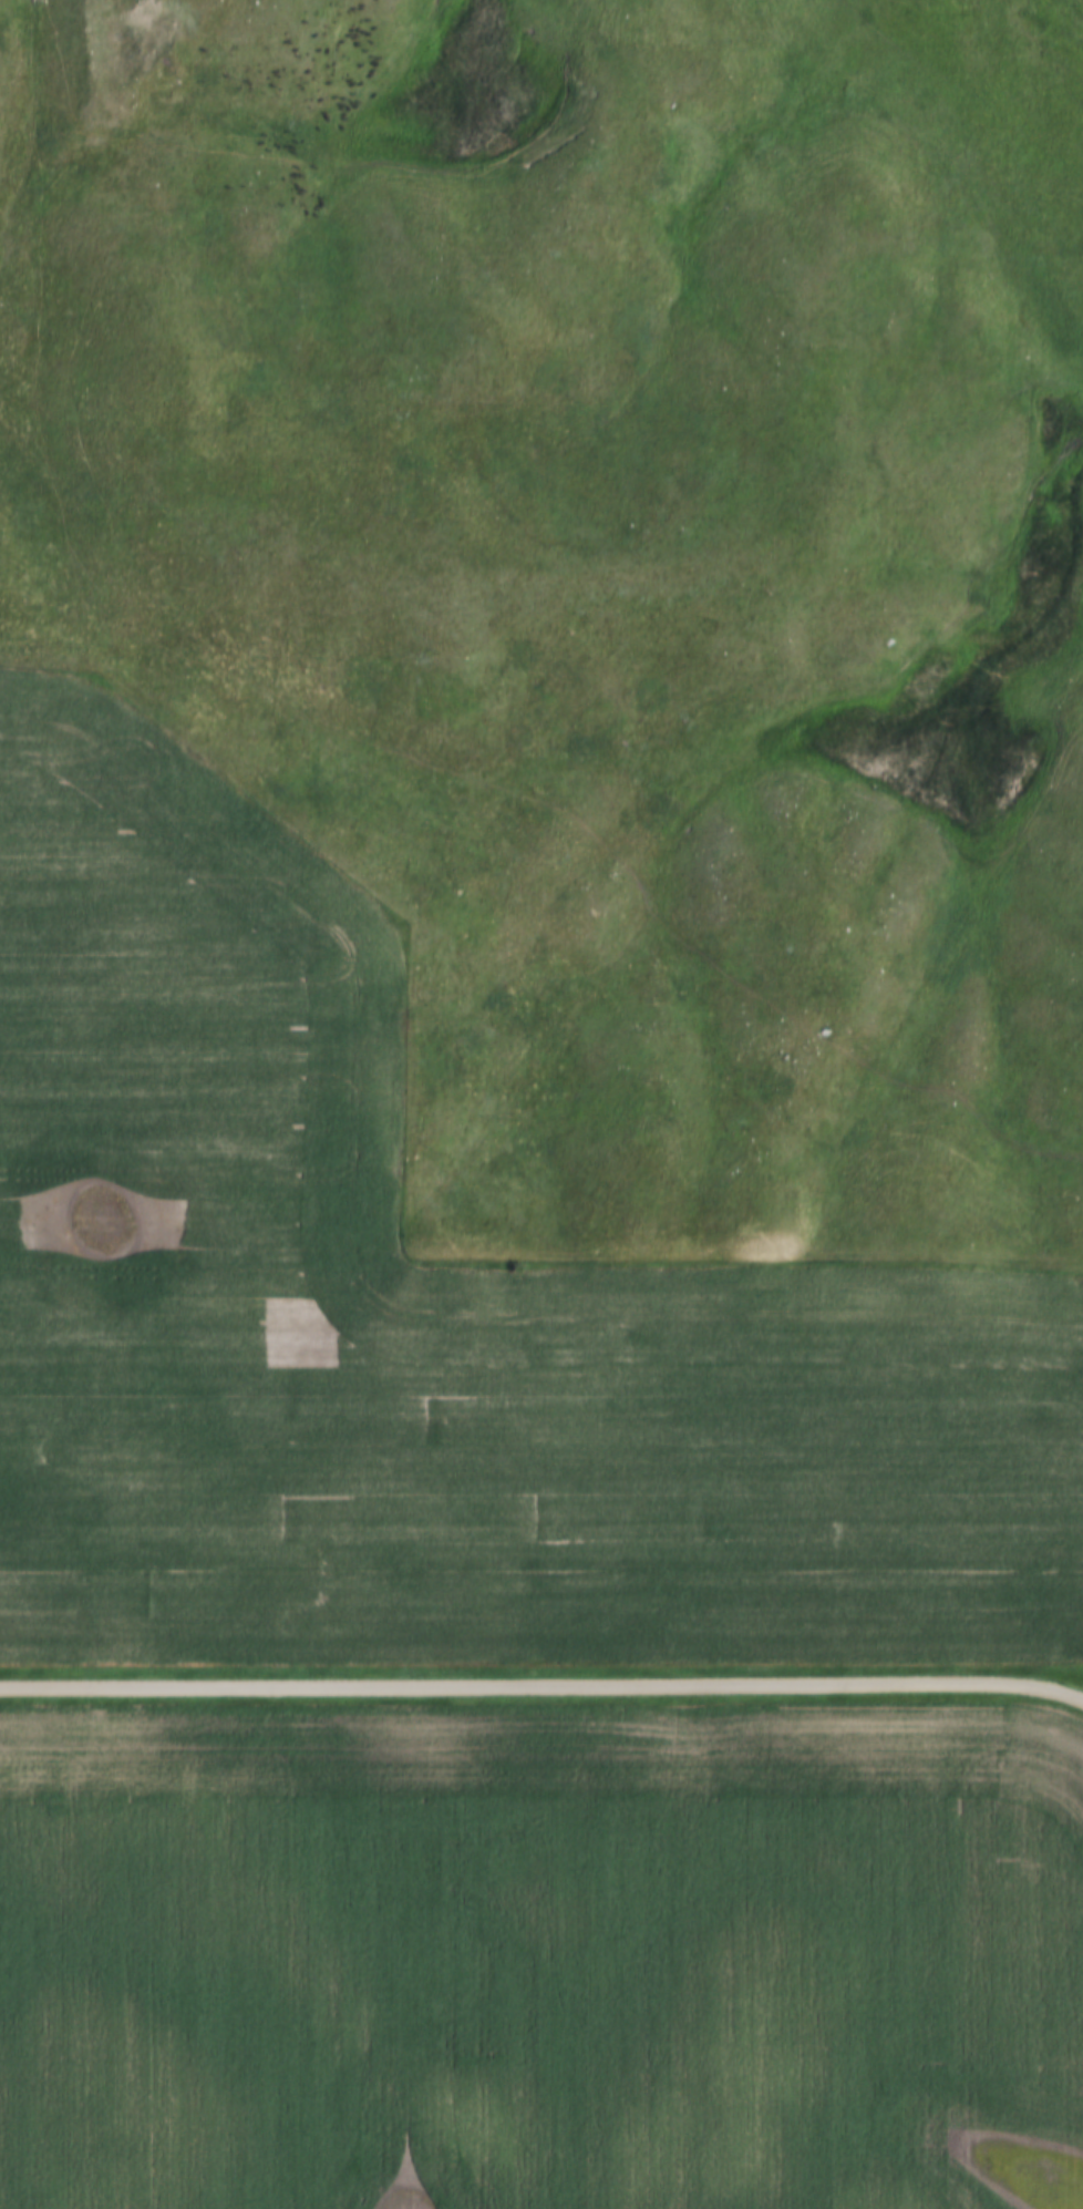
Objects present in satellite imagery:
road: (541, 1689)

